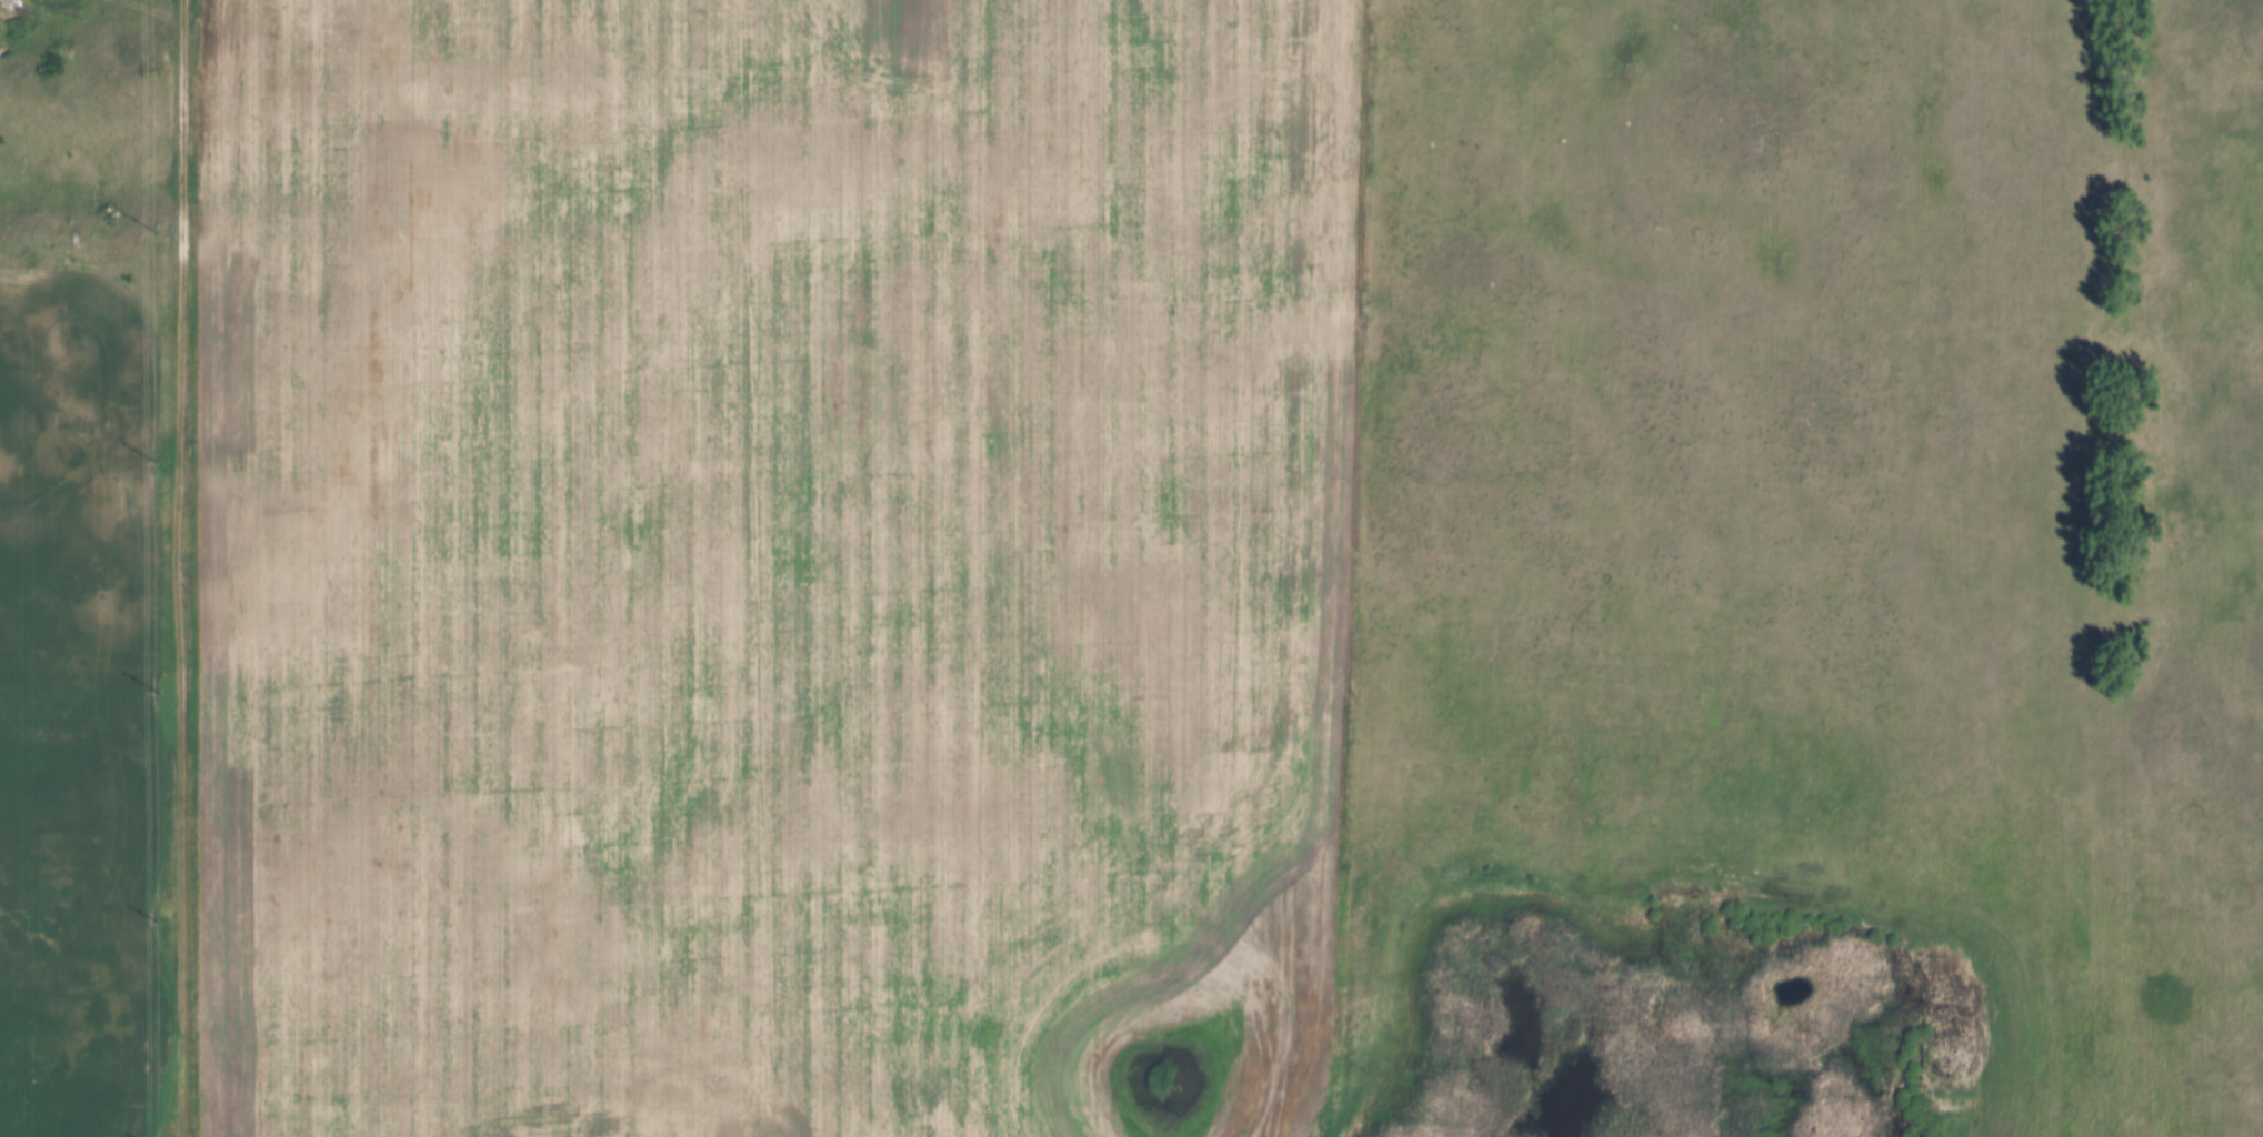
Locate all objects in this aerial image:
road: (154, 8)
quarry: (82, 137)
road: (179, 567)

